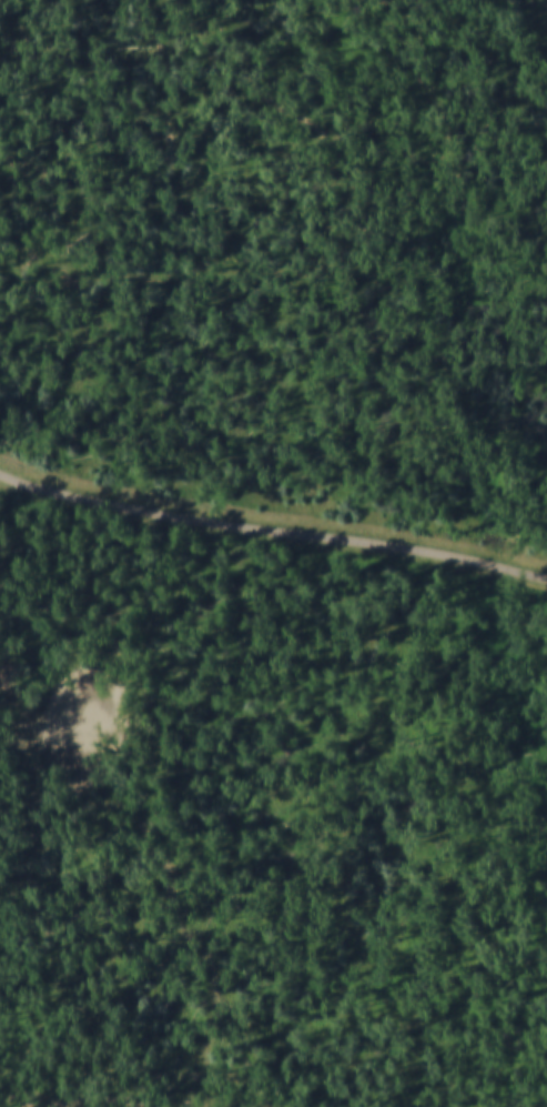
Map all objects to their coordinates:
road: (272, 527)
park: (84, 723)
park: (265, 817)
road: (171, 896)
road: (72, 1093)

